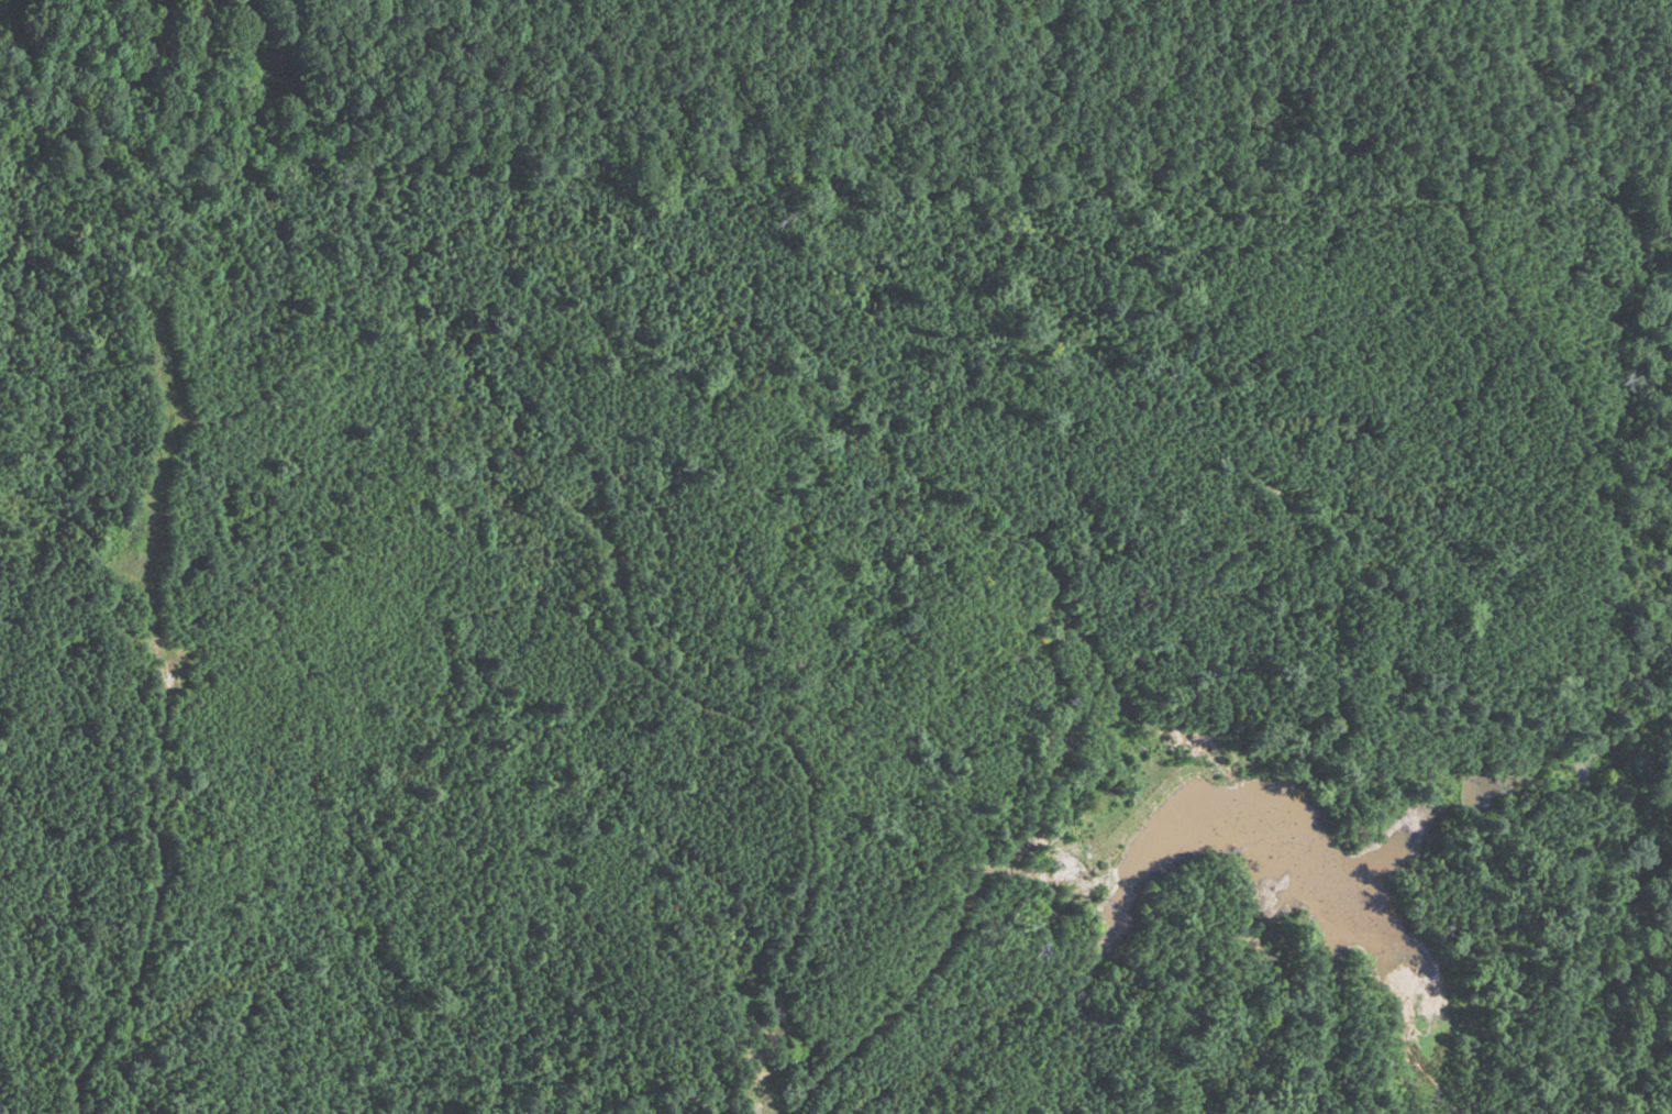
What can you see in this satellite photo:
road: (1605, 68)

